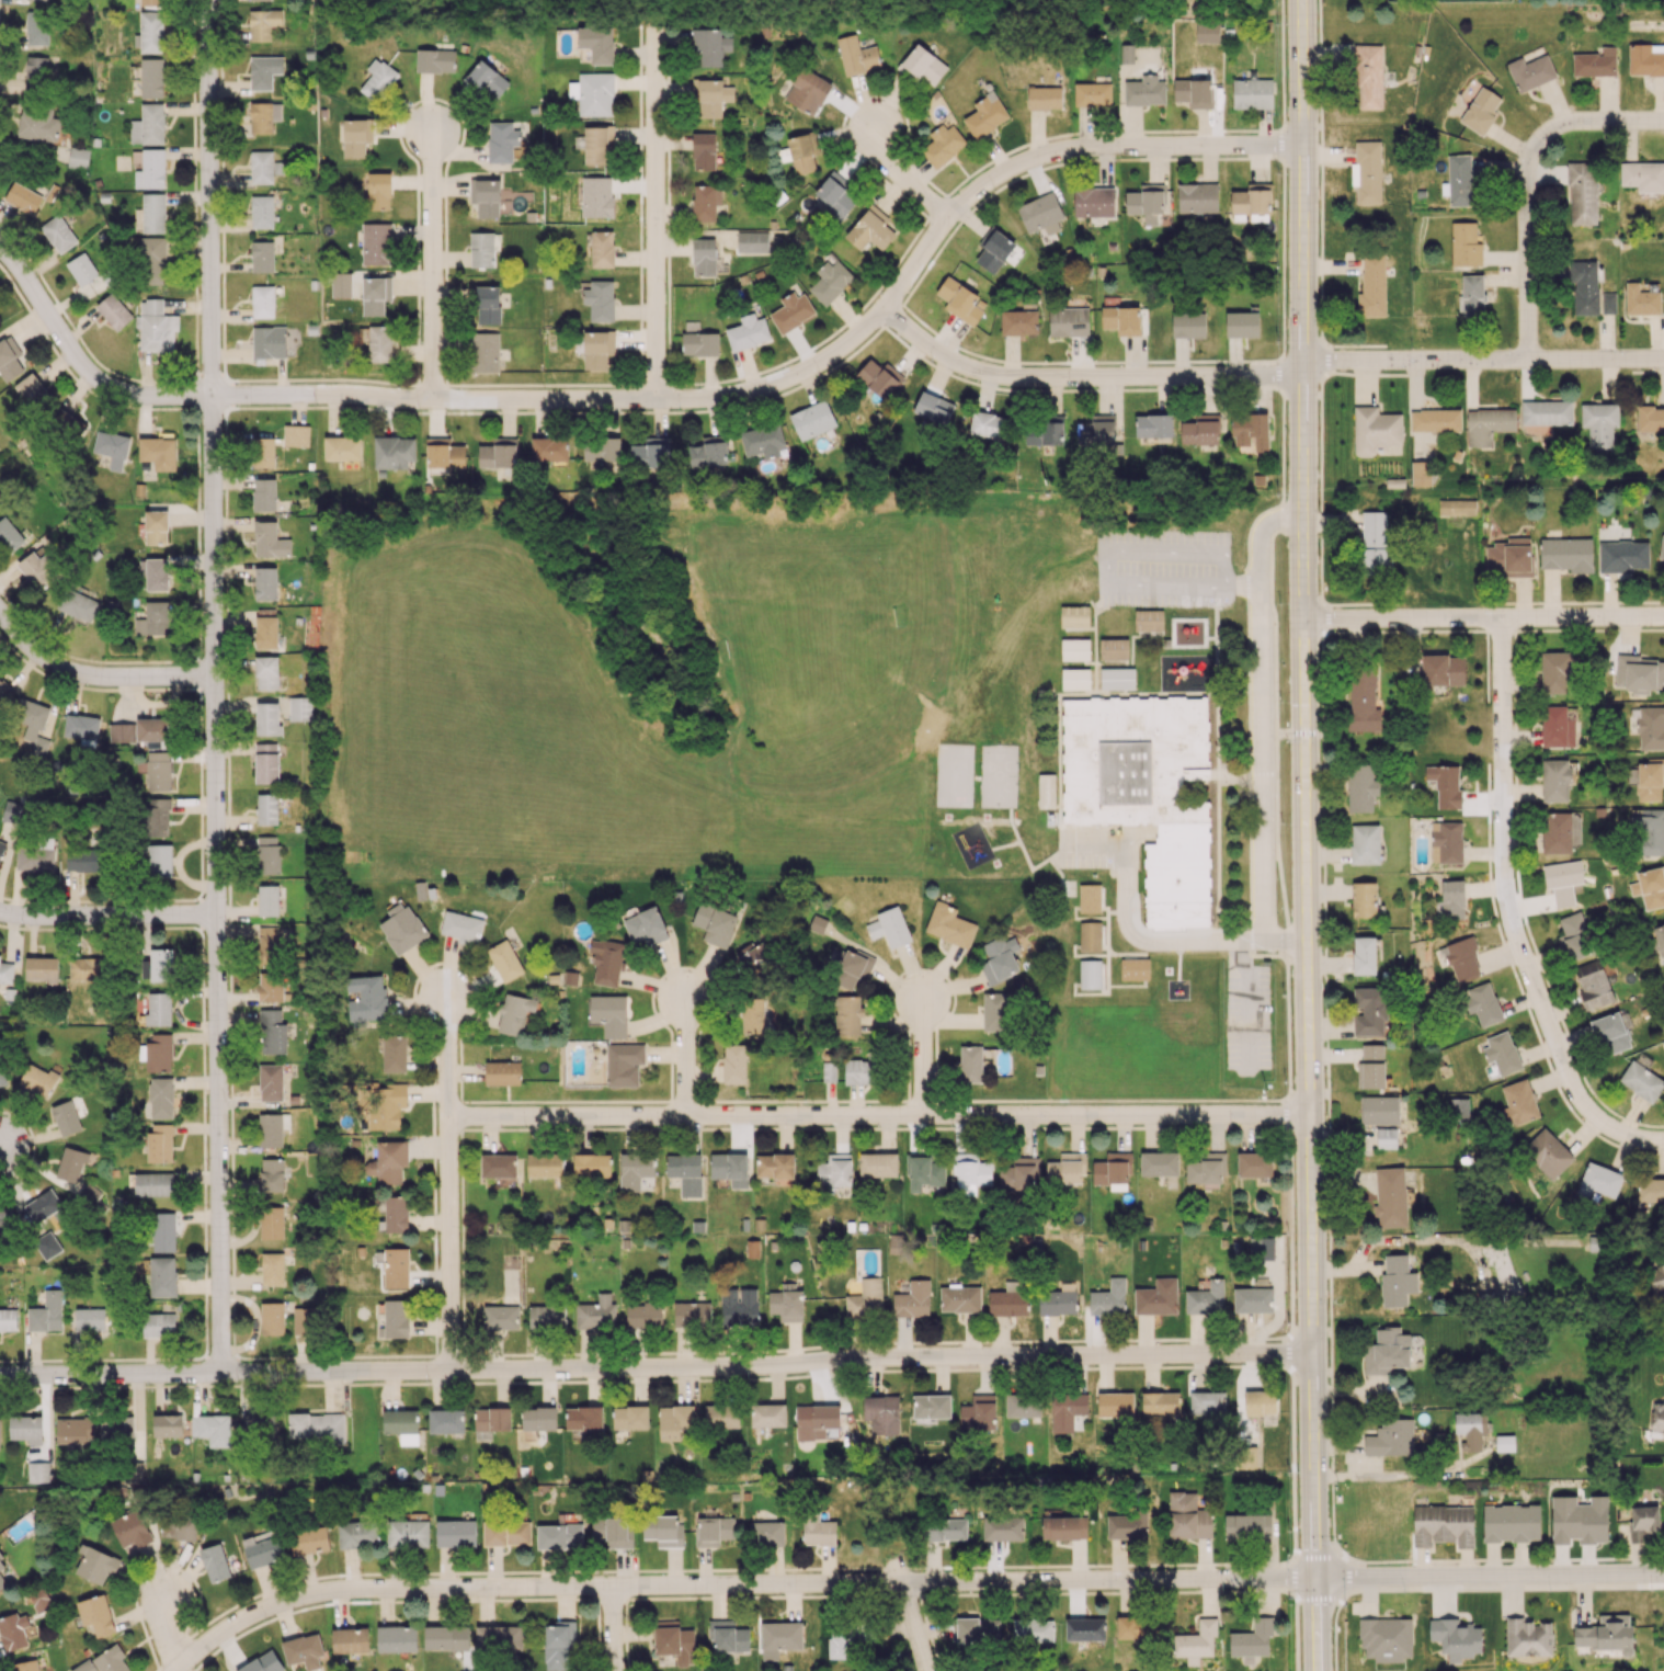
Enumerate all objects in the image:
building: (258, 0)
building: (150, 2)
building: (263, 23)
building: (36, 27)
building: (150, 32)
building: (1207, 32)
building: (597, 45)
building: (709, 47)
building: (1127, 54)
building: (856, 56)
building: (1645, 59)
building: (435, 60)
building: (1595, 62)
building: (924, 65)
building: (35, 71)
building: (263, 71)
building: (1530, 72)
building: (151, 77)
building: (1368, 77)
building: (377, 79)
building: (487, 80)
building: (807, 90)
building: (1144, 91)
building: (1193, 92)
building: (593, 93)
building: (1092, 93)
building: (1252, 93)
building: (711, 96)
building: (1044, 98)
building: (1481, 110)
building: (985, 115)
building: (263, 116)
building: (37, 125)
building: (148, 125)
building: (356, 137)
building: (501, 141)
building: (944, 144)
building: (704, 150)
building: (802, 152)
building: (78, 158)
building: (261, 166)
building: (150, 170)
building: (1367, 172)
road: (900, 177)
building: (1643, 177)
building: (1458, 180)
road: (1526, 185)
building: (379, 191)
building: (1582, 193)
road: (212, 196)
building: (596, 196)
building: (836, 196)
building: (486, 197)
building: (1197, 197)
building: (22, 198)
building: (1146, 200)
building: (1251, 200)
building: (705, 202)
building: (1094, 202)
building: (261, 212)
building: (152, 213)
building: (1040, 214)
road: (656, 215)
building: (870, 230)
building: (58, 234)
building: (753, 242)
building: (376, 243)
building: (1464, 245)
building: (602, 248)
building: (481, 249)
building: (993, 250)
building: (262, 255)
building: (704, 257)
building: (152, 260)
road: (431, 265)
building: (81, 269)
building: (830, 280)
building: (341, 284)
building: (1372, 286)
building: (1588, 289)
building: (375, 295)
building: (1471, 295)
building: (600, 300)
building: (961, 300)
building: (1641, 300)
building: (262, 302)
building: (488, 305)
building: (113, 311)
building: (791, 311)
building: (1121, 320)
building: (1068, 321)
building: (1018, 322)
building: (1188, 325)
building: (1242, 325)
building: (156, 326)
building: (748, 332)
building: (269, 341)
building: (379, 343)
building: (699, 343)
building: (597, 349)
building: (485, 352)
building: (8, 357)
road: (1482, 360)
road: (80, 367)
road: (800, 373)
road: (1277, 373)
road: (1082, 379)
building: (878, 380)
building: (31, 389)
building: (933, 408)
building: (1547, 412)
building: (1650, 419)
building: (812, 420)
building: (1435, 420)
building: (67, 423)
building: (987, 424)
building: (1488, 424)
building: (1599, 424)
building: (1153, 428)
building: (1096, 430)
building: (1200, 430)
building: (1250, 431)
building: (1042, 433)
building: (295, 435)
building: (763, 441)
road: (1281, 444)
building: (112, 448)
building: (341, 448)
building: (548, 448)
building: (151, 452)
building: (392, 452)
building: (602, 452)
building: (708, 452)
building: (262, 453)
building: (650, 453)
building: (498, 454)
building: (443, 456)
building: (1421, 474)
building: (264, 495)
building: (1457, 507)
road: (1281, 516)
building: (156, 526)
road: (1250, 527)
building: (1374, 528)
building: (9, 534)
road: (1261, 537)
building: (269, 541)
building: (1662, 547)
road: (1108, 552)
building: (1566, 554)
building: (1622, 556)
building: (1509, 557)
building: (1375, 560)
building: (37, 568)
parking lot: (1162, 569)
building: (156, 575)
building: (265, 583)
road: (1246, 584)
road: (1240, 587)
building: (1073, 589)
building: (77, 605)
building: (1074, 618)
building: (153, 619)
building: (1114, 622)
building: (1149, 624)
road: (1460, 625)
road: (1640, 625)
building: (265, 632)
park: (806, 637)
building: (1114, 650)
building: (1074, 651)
building: (1443, 670)
building: (266, 672)
building: (1554, 672)
building: (1640, 673)
road: (95, 678)
building: (1075, 680)
building: (1117, 680)
building: (4, 692)
building: (1363, 700)
building: (298, 708)
building: (266, 718)
road: (1275, 724)
building: (32, 725)
building: (81, 726)
building: (1557, 727)
building: (1649, 727)
building: (153, 729)
building: (122, 732)
road: (1302, 732)
traffic signals: (1304, 732)
road: (1281, 734)
road: (1216, 749)
building: (265, 762)
road: (1246, 764)
road: (1262, 764)
building: (158, 771)
road: (1231, 773)
road: (1261, 774)
park: (998, 776)
building: (1555, 780)
building: (1650, 780)
building: (1141, 782)
building: (1445, 785)
building: (1360, 787)
building: (1046, 792)
building: (266, 808)
building: (11, 811)
road: (1502, 812)
building: (156, 817)
building: (1560, 831)
building: (1649, 831)
road: (1132, 835)
road: (1304, 835)
building: (1448, 842)
building: (1365, 844)
building: (2, 848)
road: (1093, 850)
parking lot: (1096, 850)
building: (267, 854)
building: (36, 855)
building: (83, 860)
building: (160, 860)
building: (1562, 880)
road: (218, 884)
building: (1650, 887)
building: (267, 899)
building: (1364, 899)
building: (1089, 900)
building: (1450, 900)
road: (1203, 911)
road: (109, 919)
building: (715, 923)
building: (949, 925)
building: (645, 927)
building: (889, 927)
building: (401, 928)
building: (461, 928)
building: (1575, 934)
building: (1090, 937)
road: (1142, 939)
road: (1250, 939)
building: (1660, 939)
road: (1286, 940)
road: (1178, 941)
road: (1251, 942)
road: (1284, 942)
building: (267, 945)
building: (0, 955)
road: (1266, 955)
building: (1364, 955)
building: (1462, 957)
building: (1001, 958)
road: (1178, 958)
building: (752, 959)
building: (504, 960)
building: (606, 960)
building: (161, 964)
building: (42, 968)
building: (853, 968)
building: (87, 969)
building: (1133, 969)
building: (5, 973)
building: (1089, 975)
building: (1593, 984)
building: (270, 986)
building: (367, 998)
building: (1482, 1003)
road: (1247, 1005)
building: (158, 1009)
building: (753, 1010)
building: (995, 1011)
building: (1369, 1011)
building: (514, 1013)
building: (608, 1014)
building: (847, 1015)
parking lot: (1246, 1021)
road: (1288, 1027)
building: (272, 1032)
building: (1610, 1033)
building: (394, 1053)
building: (1501, 1053)
road: (685, 1054)
road: (920, 1057)
building: (623, 1064)
building: (734, 1064)
building: (970, 1064)
building: (1372, 1066)
building: (829, 1071)
building: (858, 1071)
building: (502, 1072)
building: (2, 1075)
building: (36, 1079)
building: (1642, 1081)
building: (270, 1082)
road: (1578, 1092)
building: (160, 1098)
building: (1517, 1103)
building: (384, 1104)
building: (1458, 1109)
building: (1380, 1110)
road: (1286, 1114)
building: (68, 1115)
road: (878, 1116)
building: (272, 1128)
building: (1386, 1138)
building: (159, 1143)
road: (3, 1145)
building: (1547, 1152)
building: (388, 1161)
building: (71, 1163)
building: (1159, 1163)
building: (545, 1164)
building: (592, 1164)
building: (878, 1164)
building: (1254, 1164)
building: (498, 1166)
building: (730, 1168)
building: (775, 1168)
building: (1065, 1169)
building: (1113, 1169)
building: (1206, 1169)
building: (635, 1171)
building: (834, 1171)
building: (685, 1172)
building: (924, 1173)
building: (971, 1173)
building: (272, 1174)
building: (1019, 1174)
building: (1598, 1181)
road: (449, 1182)
building: (152, 1183)
building: (1650, 1190)
building: (1390, 1197)
building: (43, 1205)
building: (395, 1213)
building: (4, 1217)
building: (271, 1223)
building: (163, 1231)
building: (47, 1244)
road: (1456, 1246)
building: (1261, 1248)
building: (396, 1268)
building: (272, 1269)
building: (162, 1276)
building: (1657, 1278)
building: (1397, 1281)
building: (1156, 1297)
building: (912, 1298)
building: (959, 1298)
building: (1108, 1298)
building: (1206, 1298)
building: (865, 1299)
building: (1008, 1299)
building: (1253, 1299)
building: (1058, 1300)
building: (786, 1305)
building: (739, 1306)
building: (46, 1312)
building: (596, 1312)
building: (692, 1314)
building: (643, 1315)
building: (501, 1317)
building: (546, 1317)
building: (271, 1318)
building: (396, 1318)
building: (8, 1319)
building: (89, 1319)
building: (304, 1320)
building: (158, 1325)
building: (1386, 1351)
road: (654, 1368)
building: (1160, 1402)
building: (1207, 1402)
building: (1260, 1402)
building: (1023, 1405)
building: (1115, 1405)
building: (931, 1407)
building: (1067, 1410)
building: (978, 1411)
building: (880, 1412)
building: (721, 1416)
building: (767, 1416)
building: (630, 1417)
building: (538, 1418)
building: (1656, 1418)
building: (491, 1419)
building: (583, 1419)
building: (814, 1419)
building: (446, 1420)
building: (675, 1421)
building: (168, 1425)
building: (401, 1425)
building: (116, 1426)
building: (258, 1426)
building: (317, 1426)
building: (25, 1429)
building: (212, 1429)
building: (1470, 1429)
building: (0, 1431)
building: (1390, 1437)
building: (1504, 1443)
building: (1245, 1457)
road: (1353, 1462)
building: (37, 1471)
road: (1410, 1474)
building: (1187, 1516)
building: (1578, 1520)
building: (1642, 1521)
building: (1511, 1523)
building: (1443, 1525)
building: (1126, 1526)
building: (1247, 1526)
building: (178, 1527)
building: (1063, 1527)
building: (130, 1528)
building: (946, 1528)
building: (1002, 1528)
building: (613, 1531)
building: (663, 1531)
building: (713, 1531)
building: (818, 1531)
building: (357, 1533)
building: (455, 1533)
building: (506, 1533)
building: (765, 1533)
building: (408, 1534)
building: (559, 1536)
building: (309, 1539)
building: (262, 1549)
building: (1, 1556)
building: (214, 1562)
building: (95, 1564)
road: (1489, 1577)
building: (3, 1578)
traffic signals: (1313, 1579)
road: (734, 1584)
building: (95, 1616)
road: (914, 1626)
building: (1138, 1627)
road: (612, 1628)
road: (166, 1629)
building: (977, 1629)
building: (1033, 1629)
building: (1084, 1629)
building: (13, 1632)
building: (1606, 1636)
building: (446, 1637)
building: (498, 1637)
building: (728, 1637)
building: (396, 1638)
building: (779, 1638)
building: (844, 1638)
building: (1386, 1638)
building: (1456, 1638)
building: (1528, 1638)
building: (350, 1640)
building: (1252, 1640)
building: (674, 1642)
building: (1196, 1642)
building: (558, 1645)
building: (303, 1651)
building: (104, 1661)
building: (263, 1663)
building: (25, 1666)

